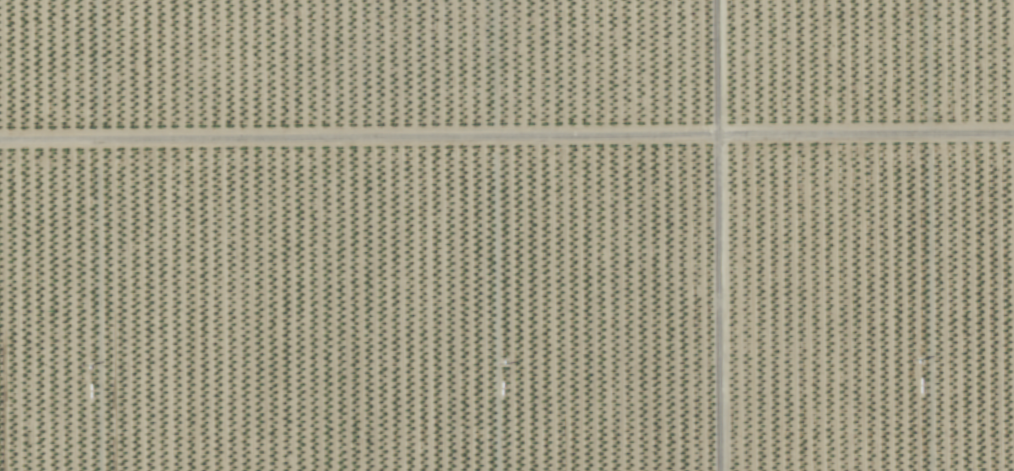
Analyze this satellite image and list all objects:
road: (717, 235)

